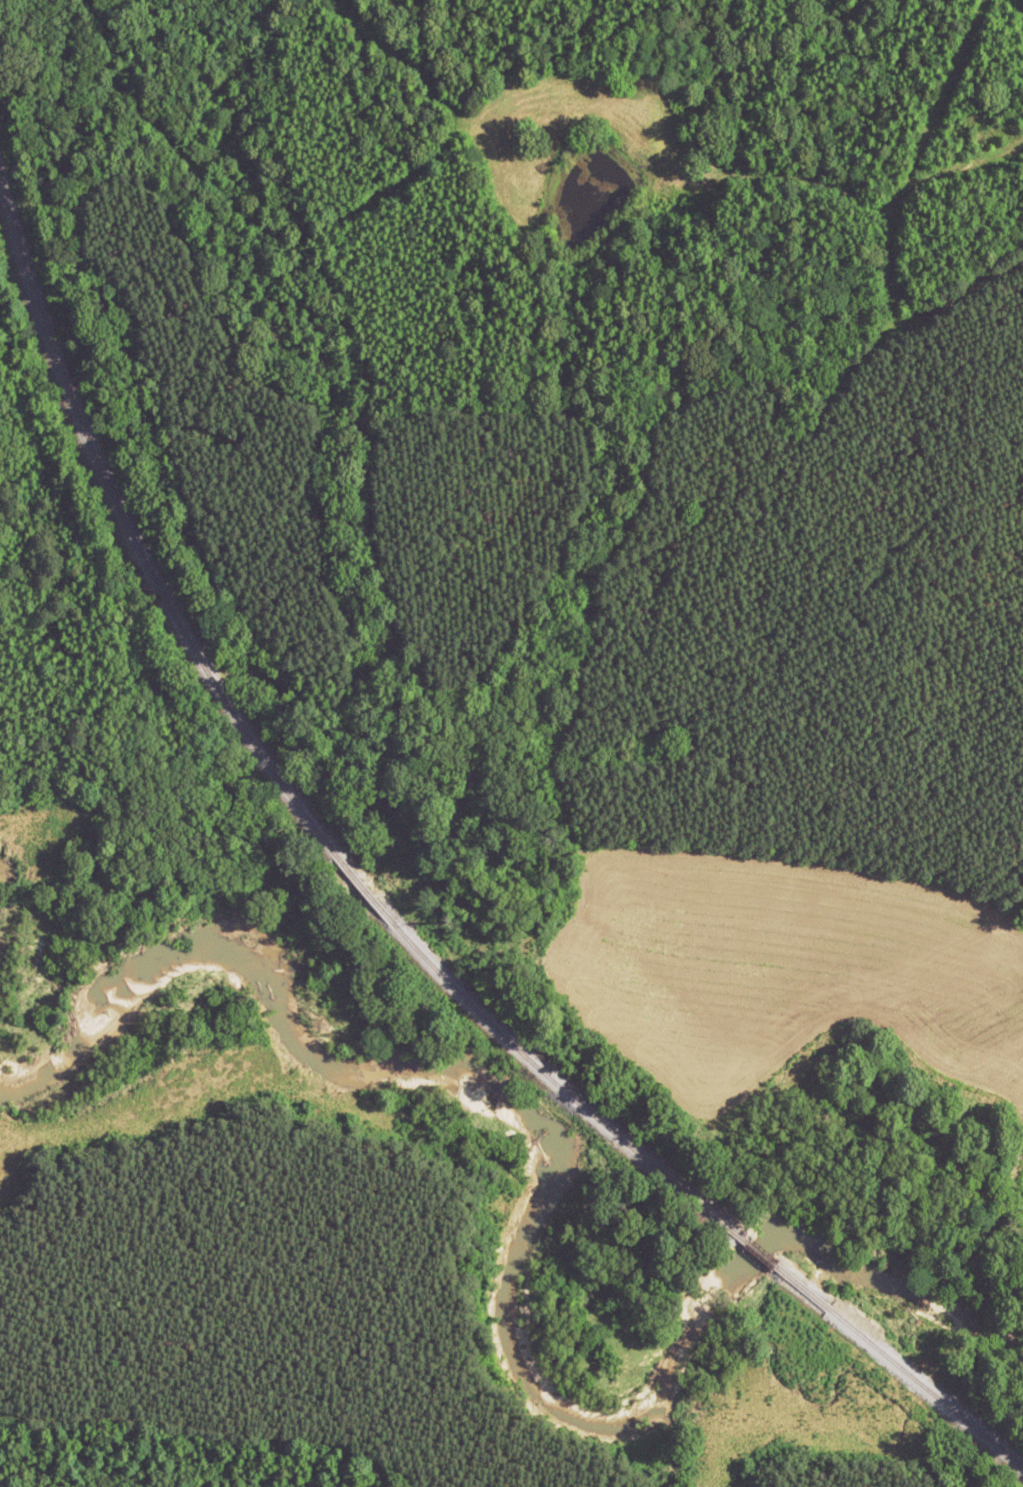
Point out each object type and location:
railway: (381, 909)

